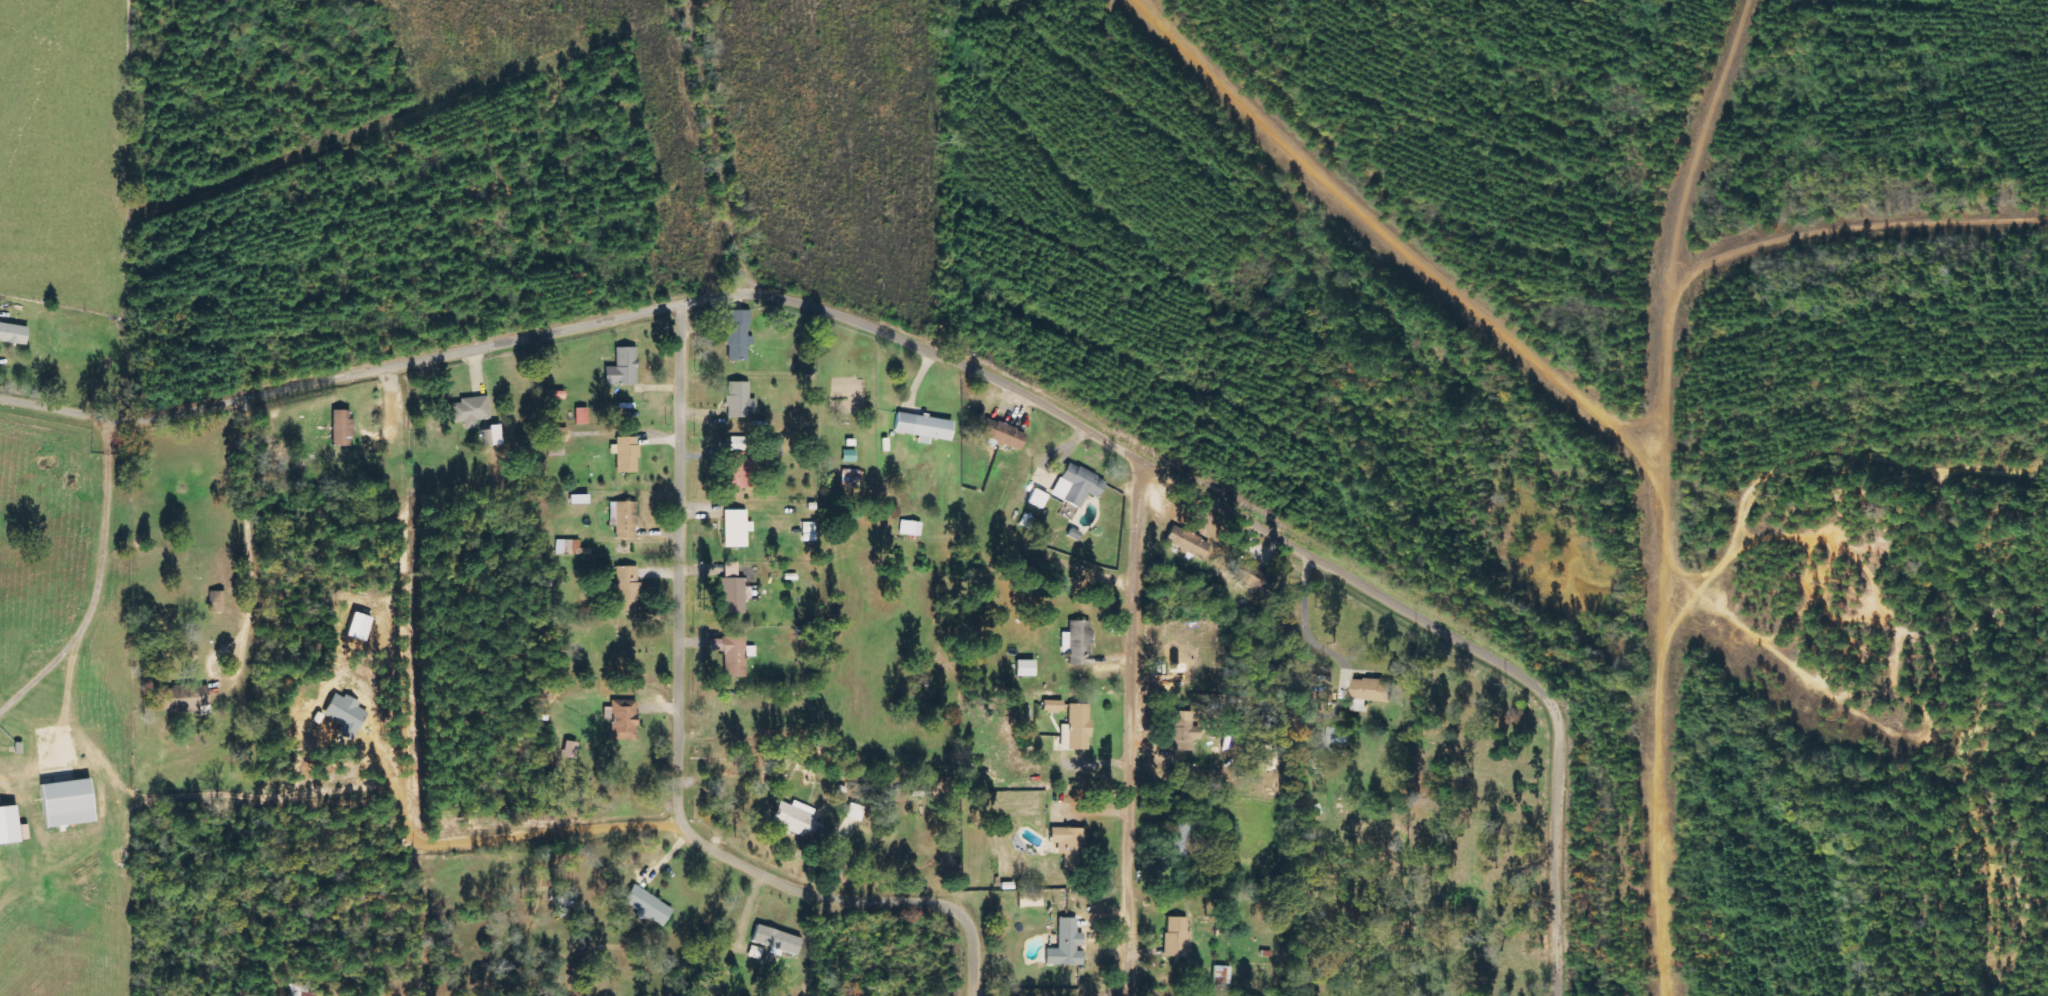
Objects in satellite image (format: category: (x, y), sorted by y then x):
building: (13, 334)
building: (738, 334)
road: (421, 359)
building: (623, 368)
building: (739, 400)
building: (470, 411)
building: (581, 416)
building: (923, 427)
building: (341, 428)
building: (556, 435)
building: (1002, 435)
building: (490, 436)
building: (773, 445)
building: (555, 450)
building: (625, 454)
building: (273, 461)
building: (738, 464)
building: (1077, 485)
building: (1037, 498)
building: (623, 519)
building: (736, 528)
building: (910, 528)
building: (808, 532)
building: (1187, 542)
building: (569, 547)
road: (1335, 567)
building: (1251, 576)
road: (100, 584)
building: (627, 589)
building: (733, 590)
building: (216, 601)
building: (358, 626)
building: (1078, 642)
road: (685, 654)
building: (735, 657)
building: (1025, 668)
building: (1371, 692)
building: (182, 699)
road: (65, 700)
building: (1053, 706)
building: (344, 715)
building: (624, 720)
building: (1076, 728)
building: (1184, 730)
road: (1128, 732)
building: (1338, 741)
building: (569, 749)
building: (66, 803)
building: (854, 812)
building: (796, 819)
building: (8, 825)
building: (1181, 838)
building: (1069, 846)
building: (1030, 899)
road: (949, 905)
building: (647, 906)
building: (1176, 937)
building: (776, 940)
building: (1066, 945)
building: (1222, 975)
building: (302, 990)

